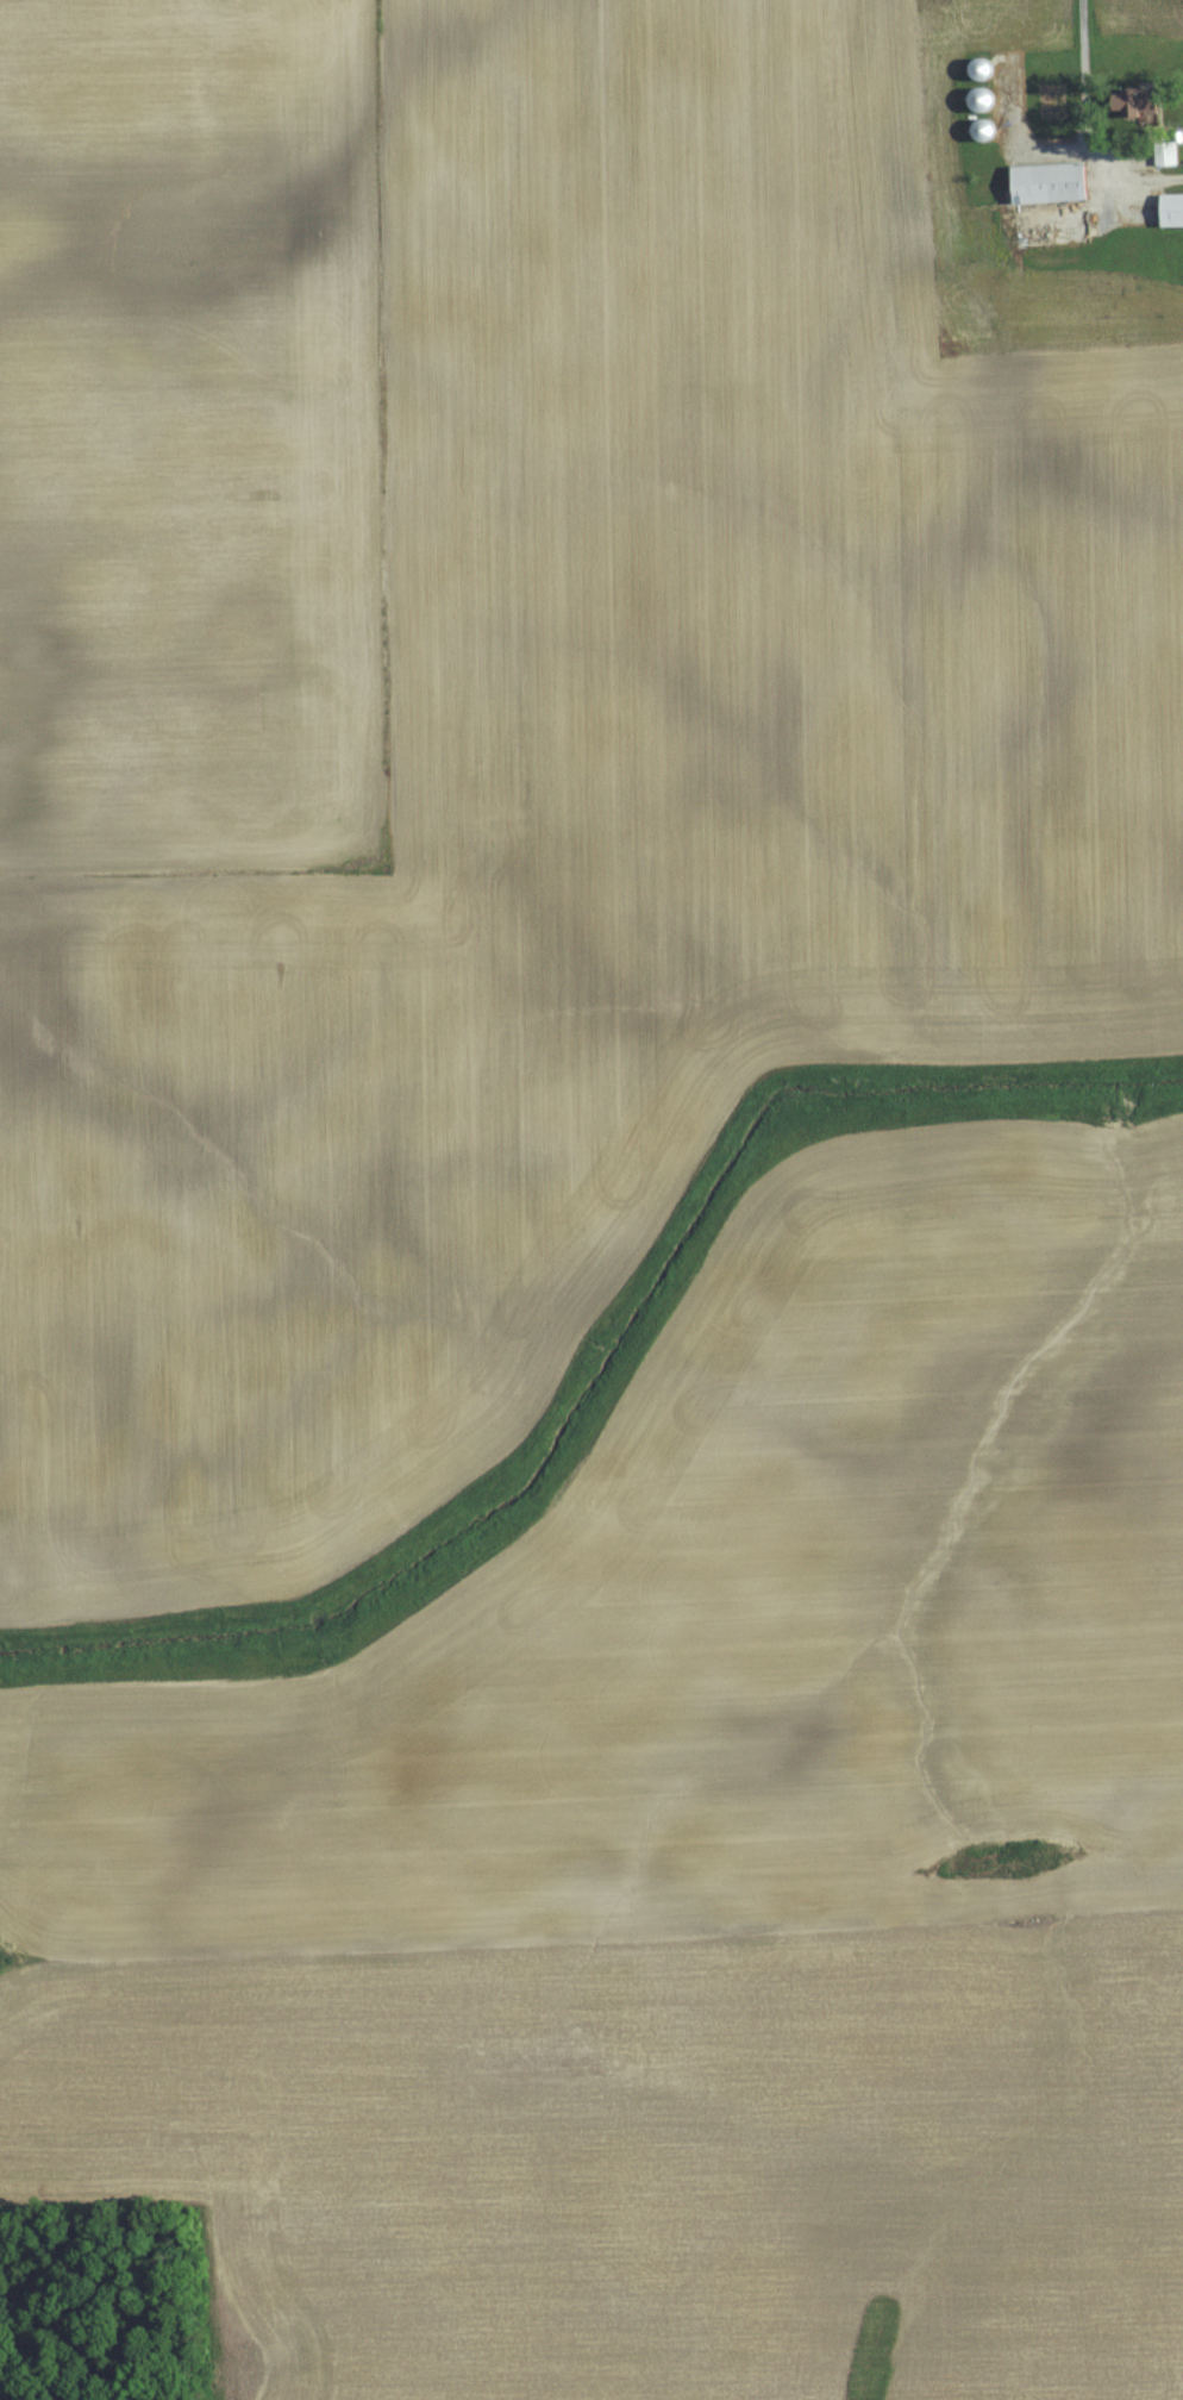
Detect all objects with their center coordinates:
building: (984, 68)
building: (983, 99)
building: (1148, 105)
road: (1090, 126)
building: (985, 130)
building: (1057, 183)
building: (1175, 211)

